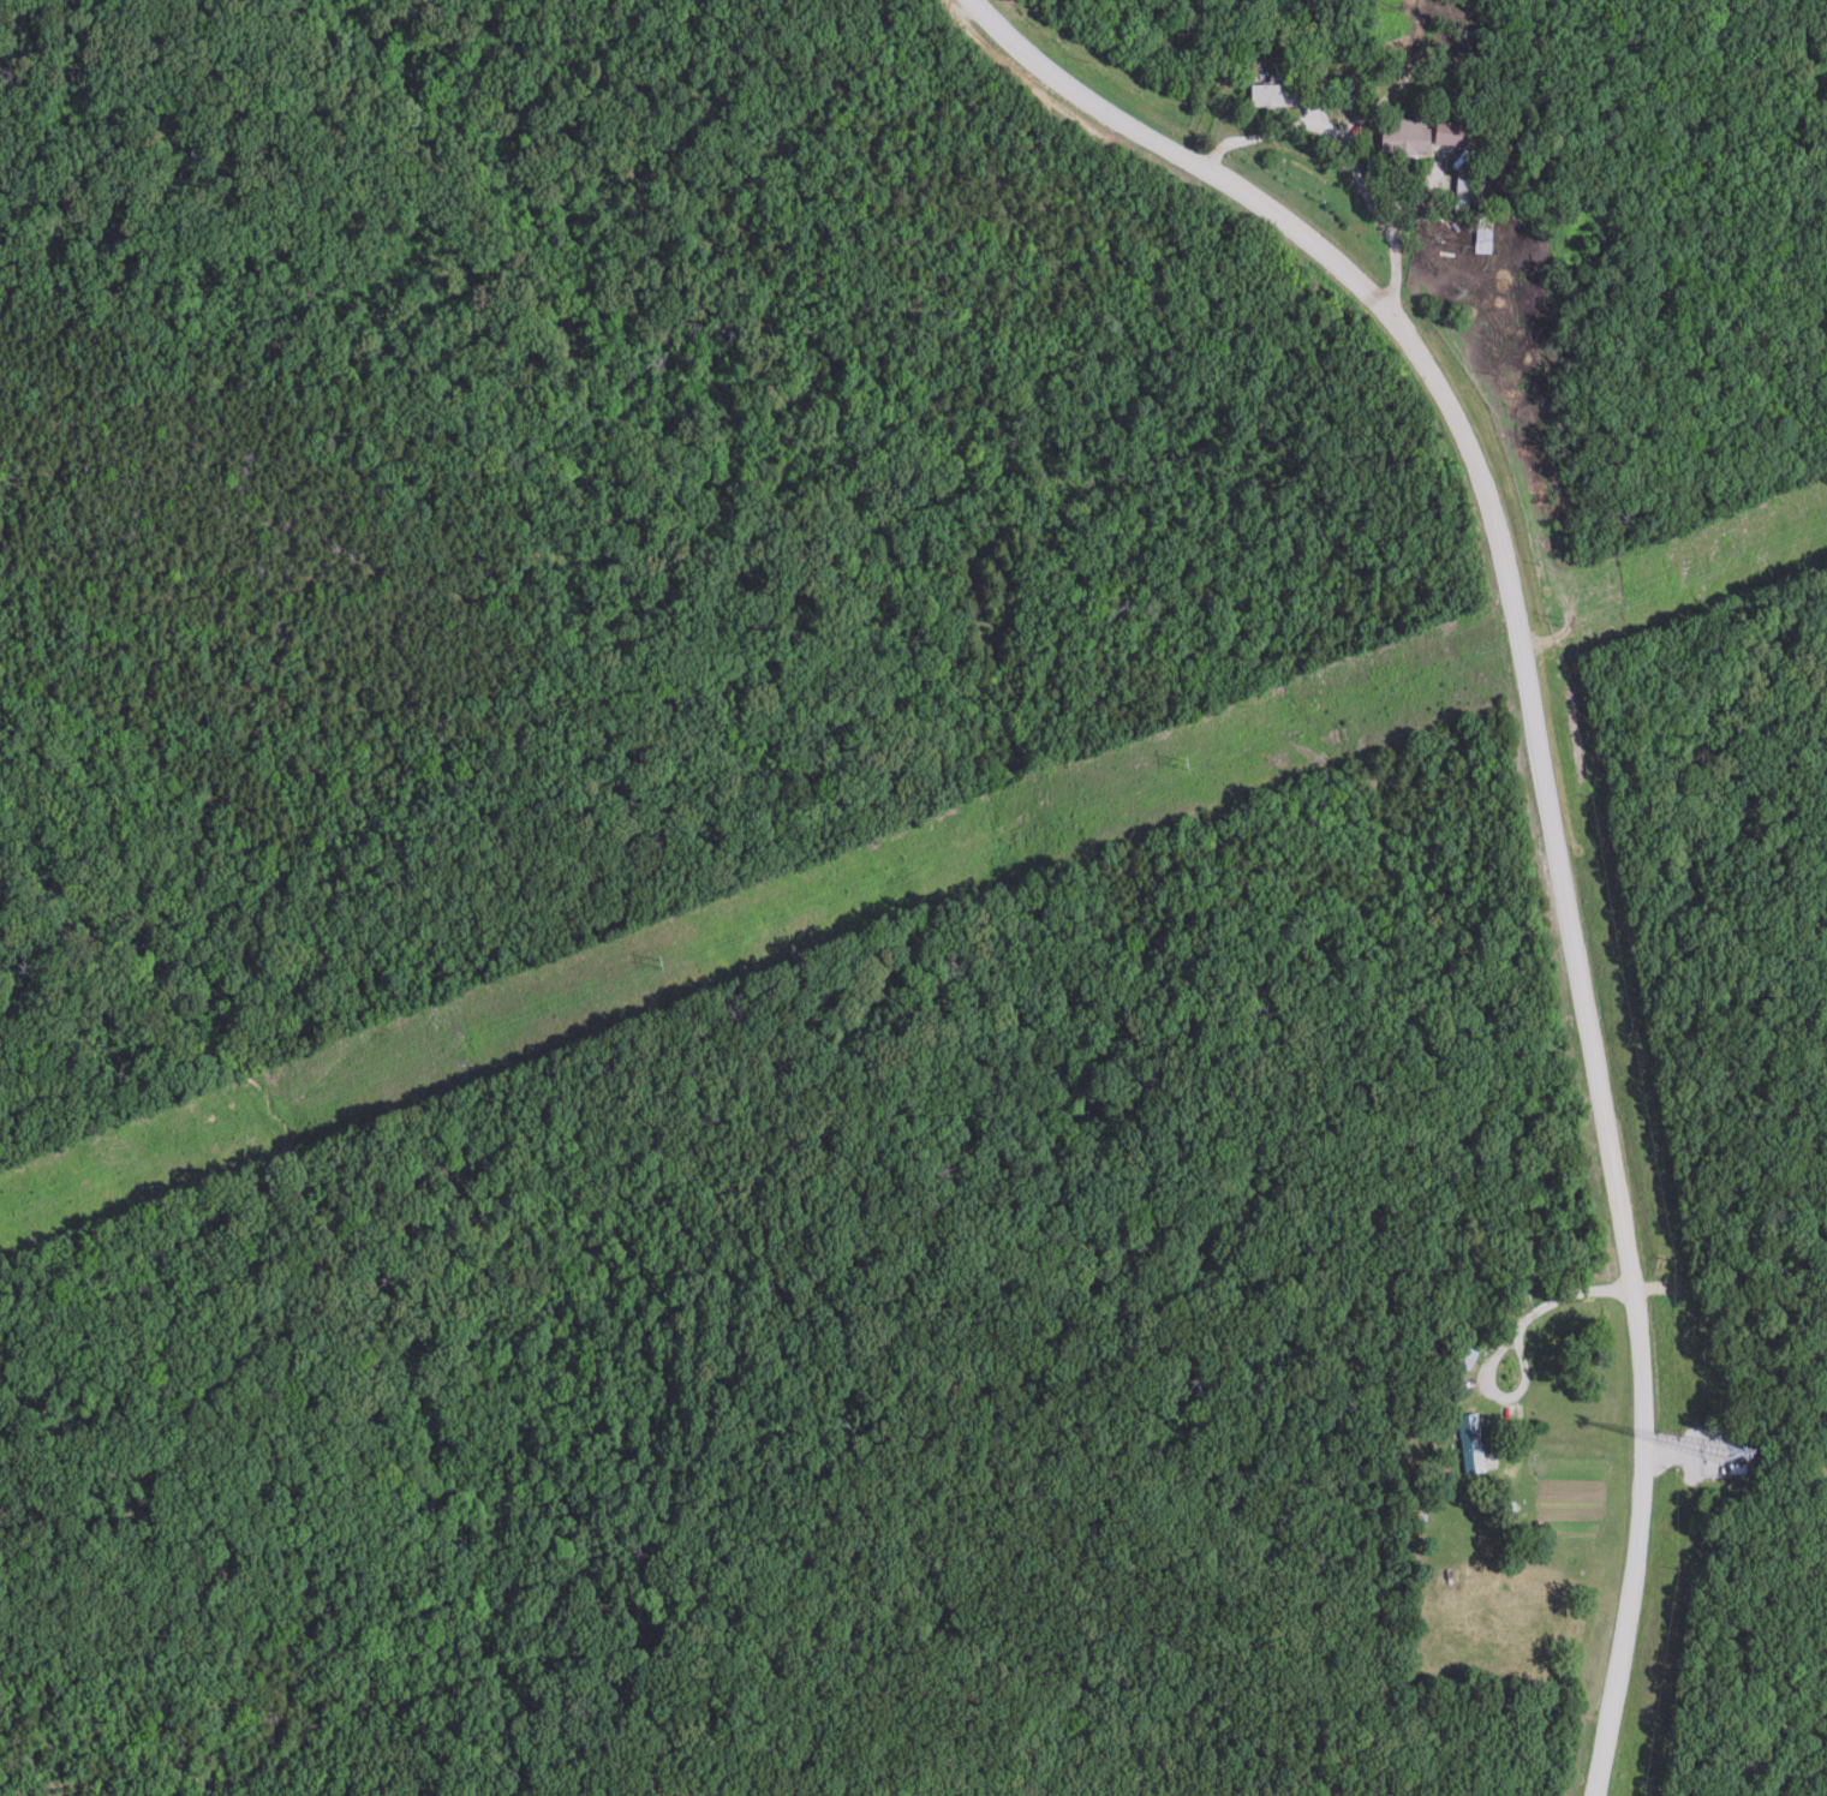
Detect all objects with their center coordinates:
building: (1277, 95)
building: (1410, 137)
road: (1360, 159)
power tower: (1552, 619)
power tower: (1164, 762)
road: (1547, 783)
power tower: (647, 961)
road: (1575, 1302)
building: (1462, 1354)
road: (1488, 1366)
building: (1474, 1442)

